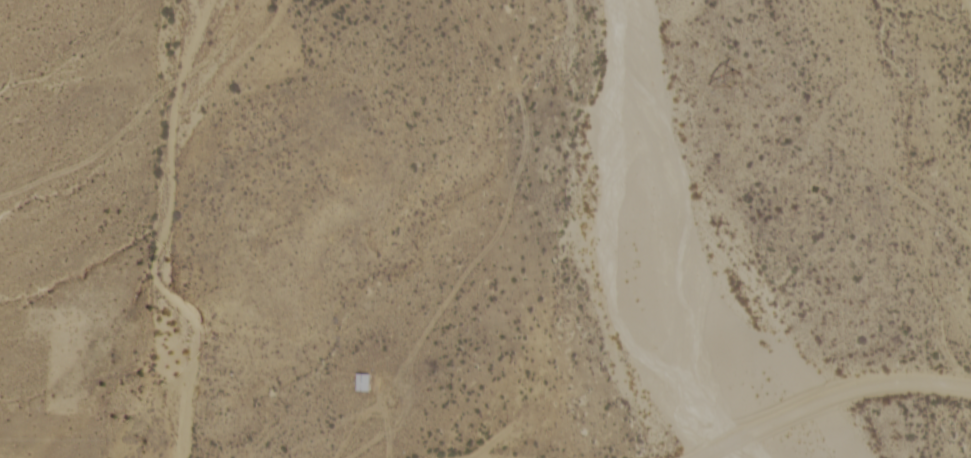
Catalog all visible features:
power tower: (730, 80)
river: (631, 250)
building: (361, 384)
road: (835, 400)

